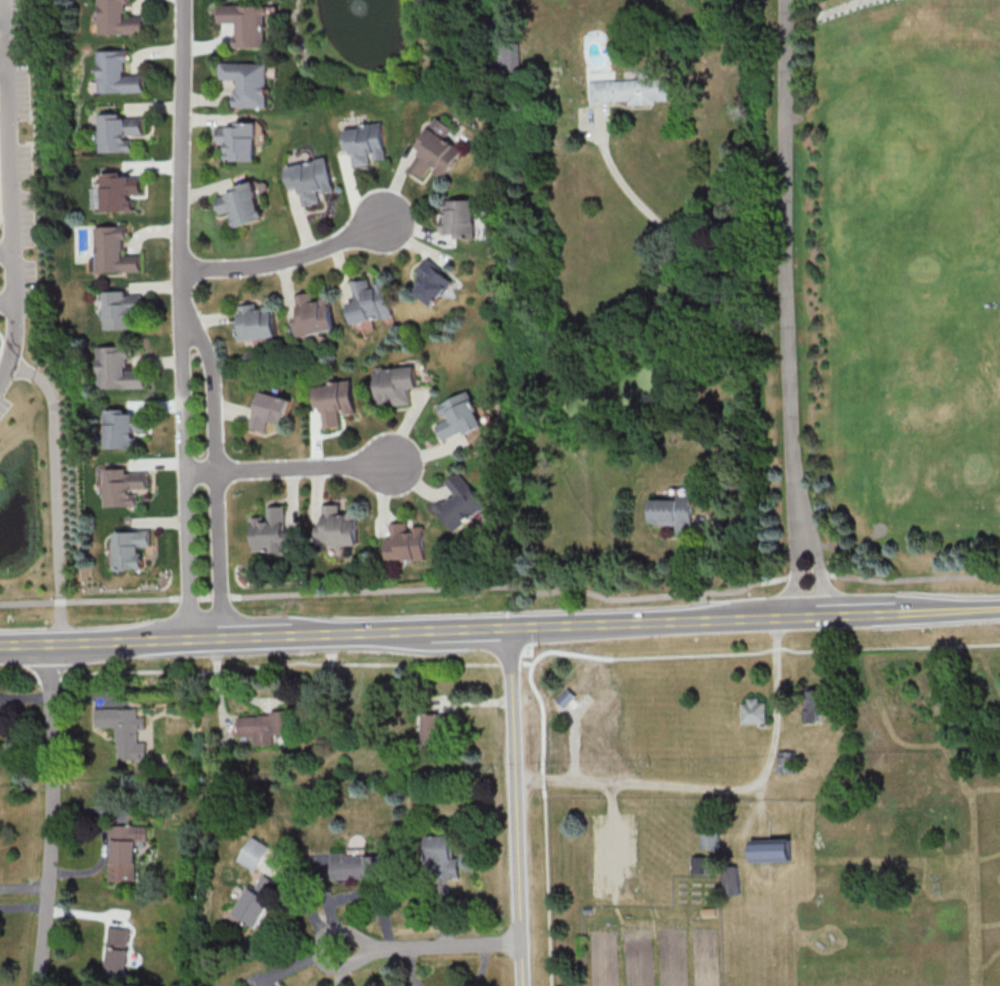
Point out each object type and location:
road: (2, 10)
building: (118, 19)
building: (248, 25)
road: (3, 64)
building: (117, 74)
building: (249, 83)
building: (631, 90)
building: (119, 132)
building: (240, 141)
building: (367, 145)
road: (182, 152)
building: (436, 153)
building: (312, 180)
road: (11, 191)
building: (120, 191)
building: (243, 205)
building: (459, 218)
road: (6, 251)
building: (114, 252)
road: (287, 258)
road: (788, 261)
building: (433, 284)
park: (870, 297)
road: (7, 300)
building: (371, 302)
building: (123, 311)
building: (316, 316)
building: (258, 323)
road: (730, 347)
building: (117, 371)
building: (397, 386)
building: (336, 404)
building: (270, 411)
building: (460, 418)
building: (124, 429)
road: (287, 467)
road: (216, 468)
road: (185, 471)
building: (126, 489)
road: (53, 493)
building: (461, 504)
building: (675, 514)
building: (340, 528)
building: (274, 534)
building: (407, 543)
building: (131, 551)
road: (816, 567)
road: (793, 568)
road: (502, 586)
road: (943, 609)
road: (852, 613)
road: (662, 621)
road: (472, 629)
road: (363, 633)
road: (255, 637)
road: (110, 641)
road: (600, 656)
road: (512, 664)
road: (244, 667)
road: (990, 674)
building: (567, 700)
road: (933, 701)
building: (818, 705)
building: (756, 713)
building: (264, 728)
building: (126, 732)
building: (436, 732)
road: (931, 746)
building: (788, 764)
road: (721, 788)
road: (984, 790)
road: (515, 806)
road: (50, 815)
park: (772, 831)
building: (711, 836)
road: (612, 840)
building: (127, 851)
building: (776, 852)
building: (255, 854)
parking lot: (613, 856)
building: (441, 859)
road: (857, 862)
building: (359, 866)
building: (703, 867)
building: (733, 885)
road: (787, 888)
building: (258, 902)
building: (589, 912)
building: (710, 913)
road: (987, 926)
road: (427, 945)
road: (757, 950)
building: (118, 953)
road: (989, 963)

